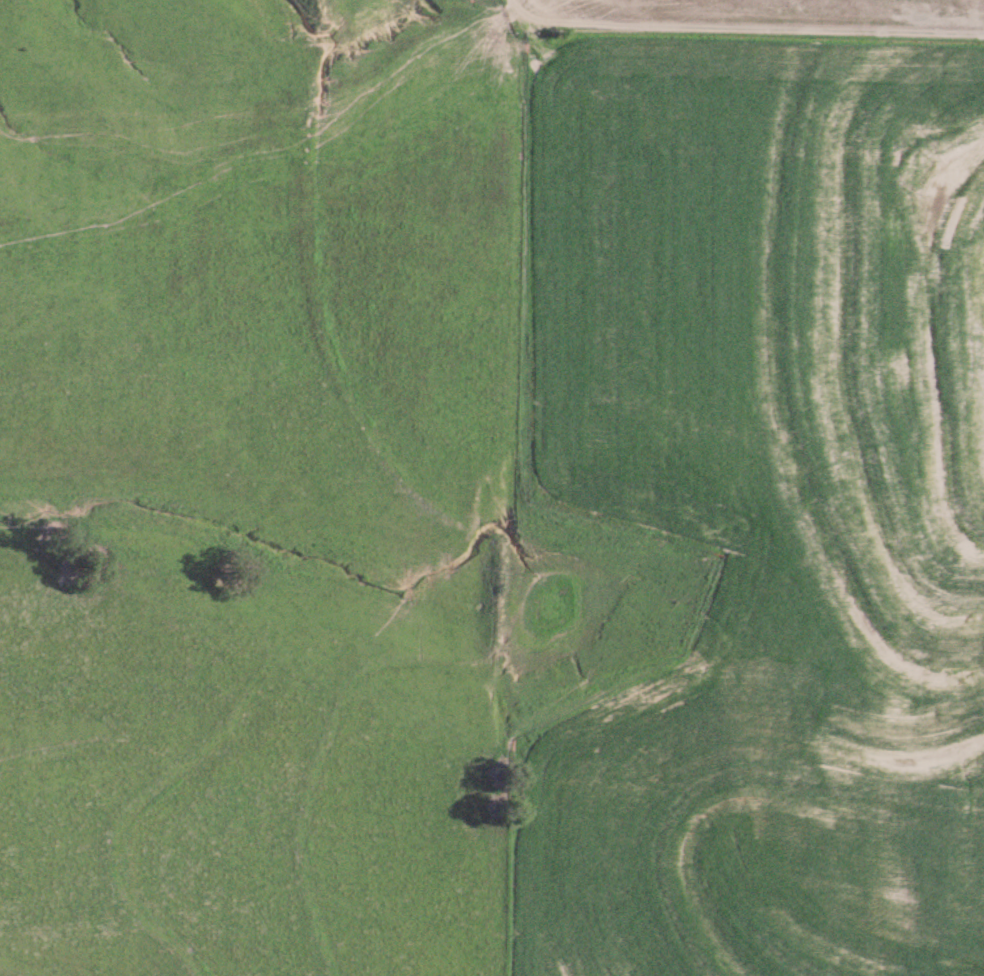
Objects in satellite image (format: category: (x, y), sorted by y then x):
road: (745, 28)

